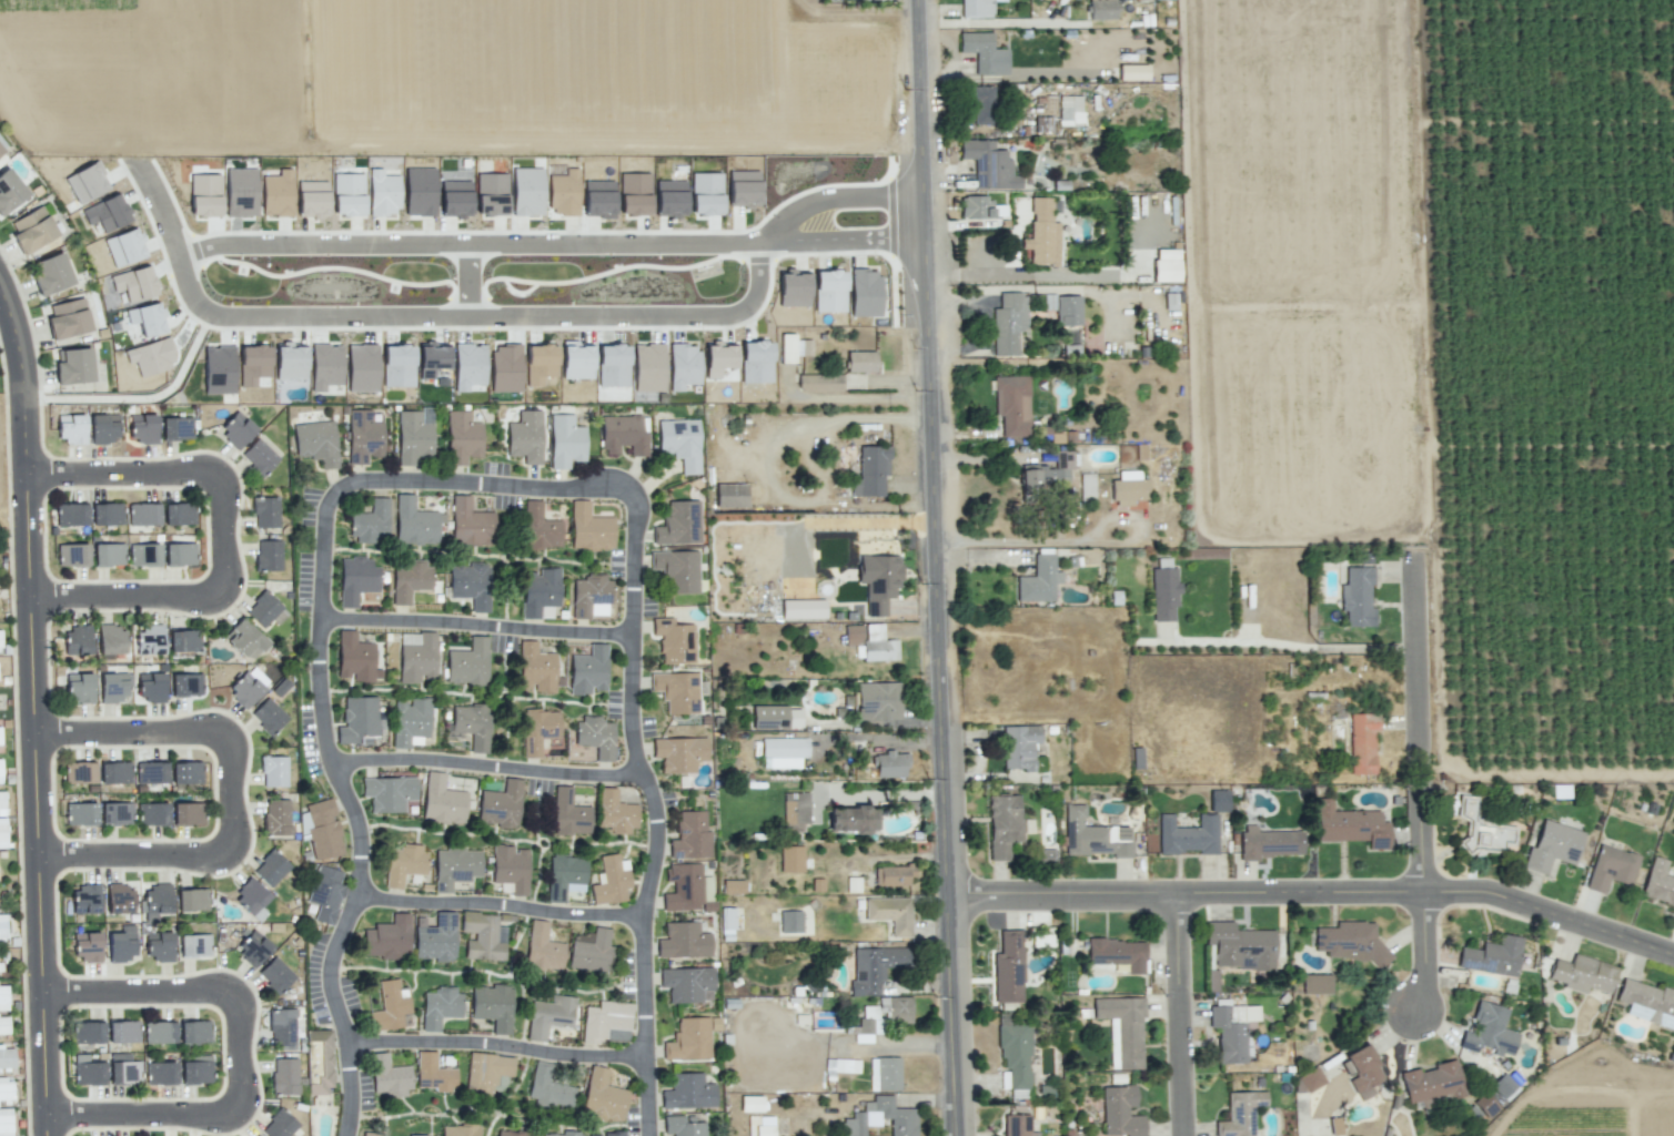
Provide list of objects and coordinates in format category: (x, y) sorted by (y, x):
building: (976, 8)
building: (1101, 9)
road: (1002, 23)
building: (984, 53)
building: (1133, 72)
building: (980, 103)
building: (1070, 110)
building: (1, 150)
building: (989, 165)
building: (87, 182)
building: (743, 189)
building: (9, 191)
building: (420, 191)
building: (526, 191)
building: (240, 192)
building: (563, 192)
building: (382, 193)
building: (706, 193)
building: (276, 194)
building: (347, 194)
building: (491, 194)
building: (634, 194)
building: (204, 195)
building: (312, 199)
building: (455, 199)
building: (598, 199)
building: (669, 199)
road: (917, 206)
road: (158, 207)
building: (976, 207)
building: (107, 213)
building: (32, 230)
building: (1042, 234)
building: (124, 247)
building: (1166, 265)
building: (50, 274)
road: (465, 280)
building: (134, 284)
building: (793, 287)
building: (829, 291)
road: (194, 292)
building: (865, 293)
building: (1068, 311)
building: (68, 318)
building: (148, 318)
building: (1009, 323)
building: (787, 347)
building: (151, 356)
building: (432, 358)
building: (576, 359)
building: (719, 361)
building: (290, 362)
building: (756, 362)
building: (860, 362)
building: (539, 363)
building: (397, 365)
building: (613, 365)
building: (683, 365)
building: (73, 366)
building: (254, 366)
building: (325, 366)
building: (362, 367)
building: (648, 367)
building: (505, 368)
building: (219, 369)
building: (819, 383)
building: (1012, 405)
building: (70, 428)
building: (102, 428)
building: (142, 428)
building: (175, 428)
building: (236, 429)
building: (624, 435)
building: (363, 437)
building: (412, 437)
building: (525, 437)
building: (462, 438)
building: (565, 442)
building: (315, 443)
building: (680, 443)
road: (710, 456)
building: (259, 457)
building: (870, 471)
building: (1048, 474)
building: (1128, 491)
building: (729, 495)
building: (265, 511)
building: (71, 514)
building: (107, 514)
building: (142, 514)
building: (178, 514)
building: (371, 523)
building: (413, 523)
building: (470, 524)
building: (677, 524)
building: (539, 528)
building: (588, 528)
road: (225, 534)
road: (1028, 541)
road: (418, 550)
building: (180, 554)
building: (71, 555)
building: (108, 555)
building: (143, 555)
building: (268, 555)
road: (552, 559)
road: (938, 567)
railway: (773, 568)
building: (677, 570)
building: (355, 579)
building: (410, 579)
building: (1039, 580)
building: (878, 581)
building: (470, 585)
building: (1164, 590)
building: (538, 591)
road: (505, 594)
building: (591, 597)
building: (1357, 598)
building: (262, 609)
building: (803, 609)
road: (414, 625)
road: (571, 635)
building: (78, 639)
building: (111, 639)
building: (244, 639)
building: (149, 640)
building: (183, 640)
building: (674, 641)
building: (0, 642)
building: (871, 642)
road: (504, 643)
building: (354, 657)
building: (416, 657)
building: (467, 663)
building: (535, 668)
building: (588, 670)
road: (324, 681)
building: (185, 684)
building: (114, 687)
building: (150, 687)
building: (79, 688)
building: (245, 689)
building: (677, 691)
road: (480, 694)
building: (878, 701)
road: (36, 711)
road: (506, 712)
building: (268, 716)
building: (768, 718)
building: (794, 718)
building: (357, 719)
building: (410, 720)
building: (471, 726)
building: (539, 731)
building: (0, 736)
building: (595, 737)
building: (1362, 742)
building: (1019, 747)
building: (783, 752)
building: (679, 753)
building: (891, 764)
road: (491, 770)
building: (273, 771)
building: (0, 772)
building: (79, 772)
building: (114, 772)
building: (150, 772)
building: (186, 772)
road: (1423, 785)
road: (235, 792)
building: (389, 793)
building: (442, 800)
building: (1218, 801)
building: (2, 803)
building: (501, 805)
road: (656, 805)
building: (795, 811)
building: (615, 812)
building: (80, 813)
building: (115, 813)
building: (151, 813)
building: (188, 813)
building: (569, 813)
building: (275, 816)
building: (853, 820)
building: (1002, 824)
building: (1350, 825)
building: (321, 829)
building: (1481, 830)
building: (2, 833)
building: (1093, 835)
building: (1188, 835)
building: (690, 836)
road: (510, 840)
building: (1270, 842)
building: (1553, 846)
building: (791, 859)
building: (404, 864)
building: (455, 868)
building: (510, 868)
building: (1611, 868)
building: (271, 869)
building: (564, 875)
building: (893, 875)
building: (611, 881)
building: (1658, 882)
building: (733, 886)
building: (687, 889)
building: (325, 893)
road: (1317, 893)
building: (84, 899)
building: (119, 899)
building: (251, 899)
building: (192, 900)
building: (155, 901)
road: (503, 907)
building: (890, 913)
building: (790, 921)
building: (2, 930)
building: (481, 936)
building: (387, 937)
building: (435, 937)
road: (516, 941)
building: (683, 941)
building: (1350, 941)
building: (121, 944)
building: (194, 945)
building: (87, 946)
building: (158, 946)
building: (1239, 946)
building: (253, 947)
building: (543, 947)
building: (589, 950)
building: (1118, 953)
building: (1492, 956)
building: (0, 966)
building: (874, 967)
building: (1008, 967)
road: (476, 970)
building: (1582, 974)
building: (275, 975)
building: (686, 984)
building: (1317, 984)
building: (3, 998)
building: (1647, 1003)
building: (390, 1006)
building: (440, 1006)
building: (492, 1006)
road: (1183, 1015)
building: (548, 1016)
building: (899, 1017)
building: (606, 1022)
building: (3, 1024)
building: (281, 1028)
building: (1122, 1031)
building: (1232, 1031)
building: (1489, 1031)
building: (87, 1032)
building: (122, 1032)
building: (159, 1032)
building: (194, 1032)
building: (690, 1038)
road: (498, 1047)
road: (243, 1054)
building: (1016, 1055)
building: (7, 1058)
building: (319, 1062)
building: (123, 1068)
building: (87, 1071)
building: (486, 1071)
building: (195, 1072)
building: (1364, 1072)
building: (160, 1073)
building: (886, 1073)
building: (434, 1074)
building: (284, 1076)
building: (389, 1077)
building: (1308, 1081)
building: (1432, 1083)
building: (548, 1087)
building: (1504, 1087)
building: (6, 1091)
building: (688, 1092)
road: (510, 1094)
building: (603, 1096)
road: (211, 1100)
building: (1485, 1105)
building: (1120, 1112)
building: (1240, 1114)
building: (880, 1118)
building: (4, 1122)
building: (279, 1125)
building: (683, 1126)
building: (1017, 1126)
building: (1334, 1126)
building: (458, 1130)
road: (121, 1133)
building: (510, 1134)
building: (562, 1134)
building: (612, 1134)
building: (369, 1135)
building: (416, 1135)

